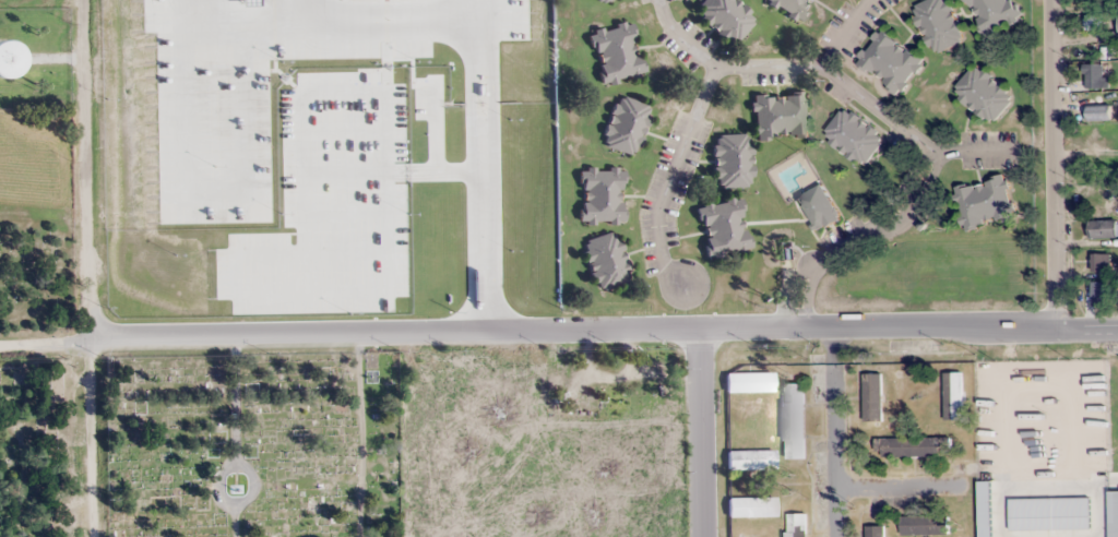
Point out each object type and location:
building: (599, 1)
building: (793, 7)
building: (991, 13)
building: (726, 19)
building: (1092, 23)
building: (937, 24)
building: (1117, 24)
building: (617, 52)
building: (889, 61)
building: (1094, 75)
building: (982, 94)
building: (1098, 112)
building: (780, 116)
building: (626, 126)
building: (852, 135)
road: (976, 152)
building: (733, 160)
road: (1051, 166)
building: (603, 195)
building: (984, 202)
building: (819, 207)
building: (723, 227)
building: (1102, 229)
road: (863, 240)
building: (607, 261)
building: (1101, 263)
road: (91, 268)
park: (36, 273)
road: (605, 334)
road: (46, 346)
building: (1097, 377)
building: (750, 383)
building: (953, 395)
building: (1000, 395)
building: (872, 397)
building: (794, 420)
road: (833, 433)
road: (698, 434)
building: (1107, 443)
park: (253, 445)
building: (1027, 445)
building: (911, 446)
park: (40, 448)
building: (751, 461)
road: (900, 489)
building: (751, 508)
building: (1055, 523)
building: (1111, 523)
building: (989, 524)
building: (796, 525)
building: (924, 525)
building: (875, 530)

